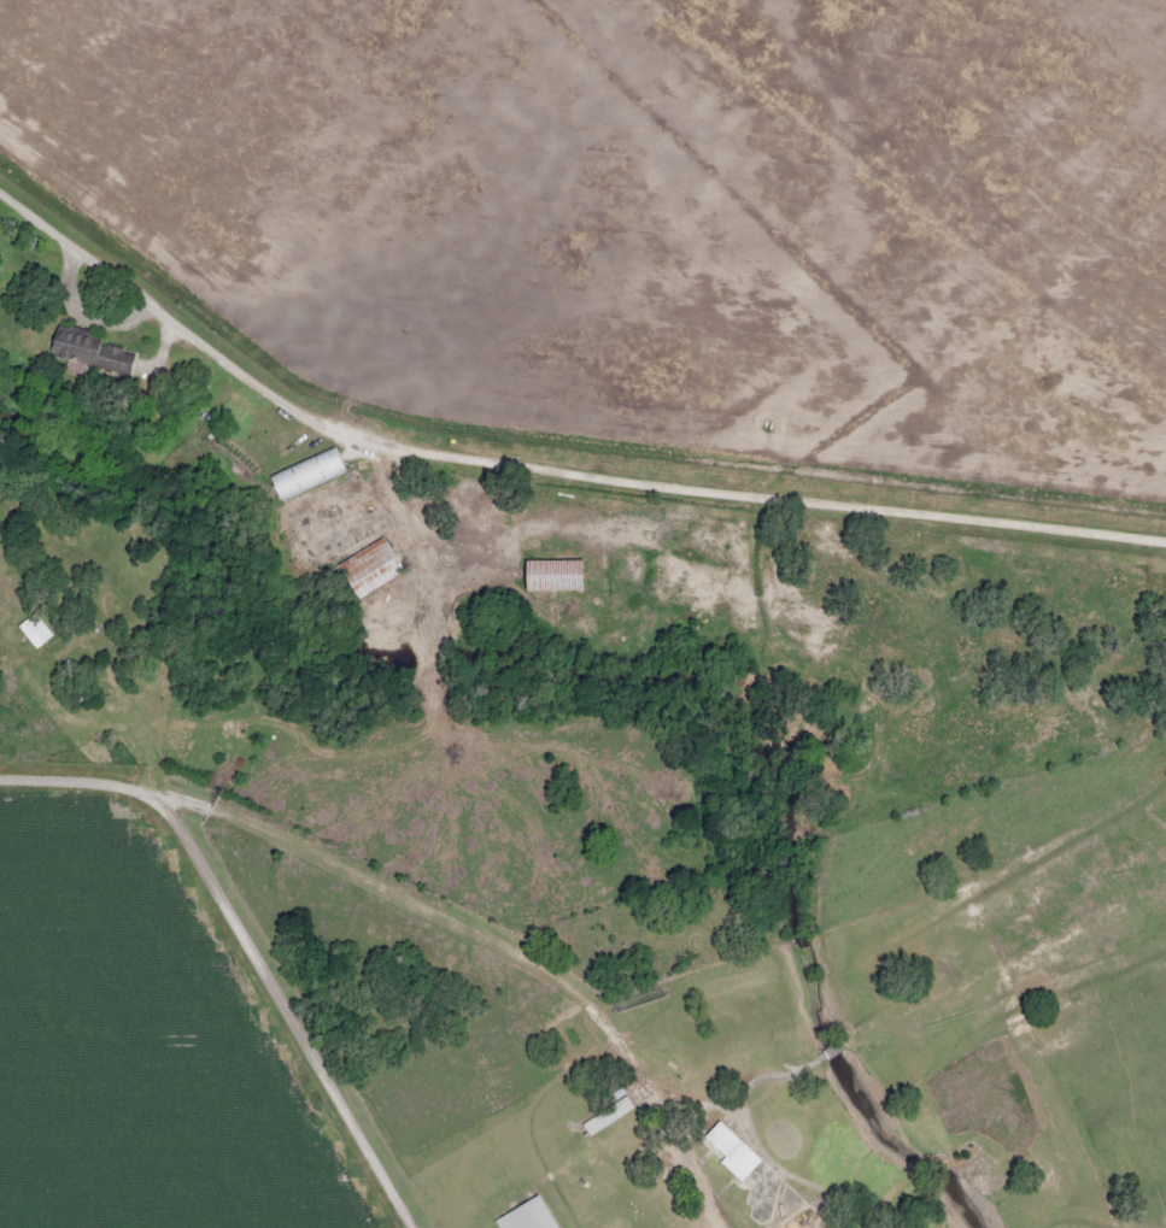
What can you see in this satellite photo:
building: (87, 349)
road: (545, 464)
building: (304, 472)
building: (368, 568)
building: (550, 575)
building: (28, 633)
road: (491, 935)
road: (252, 939)
building: (604, 1116)
building: (727, 1151)
building: (525, 1216)

